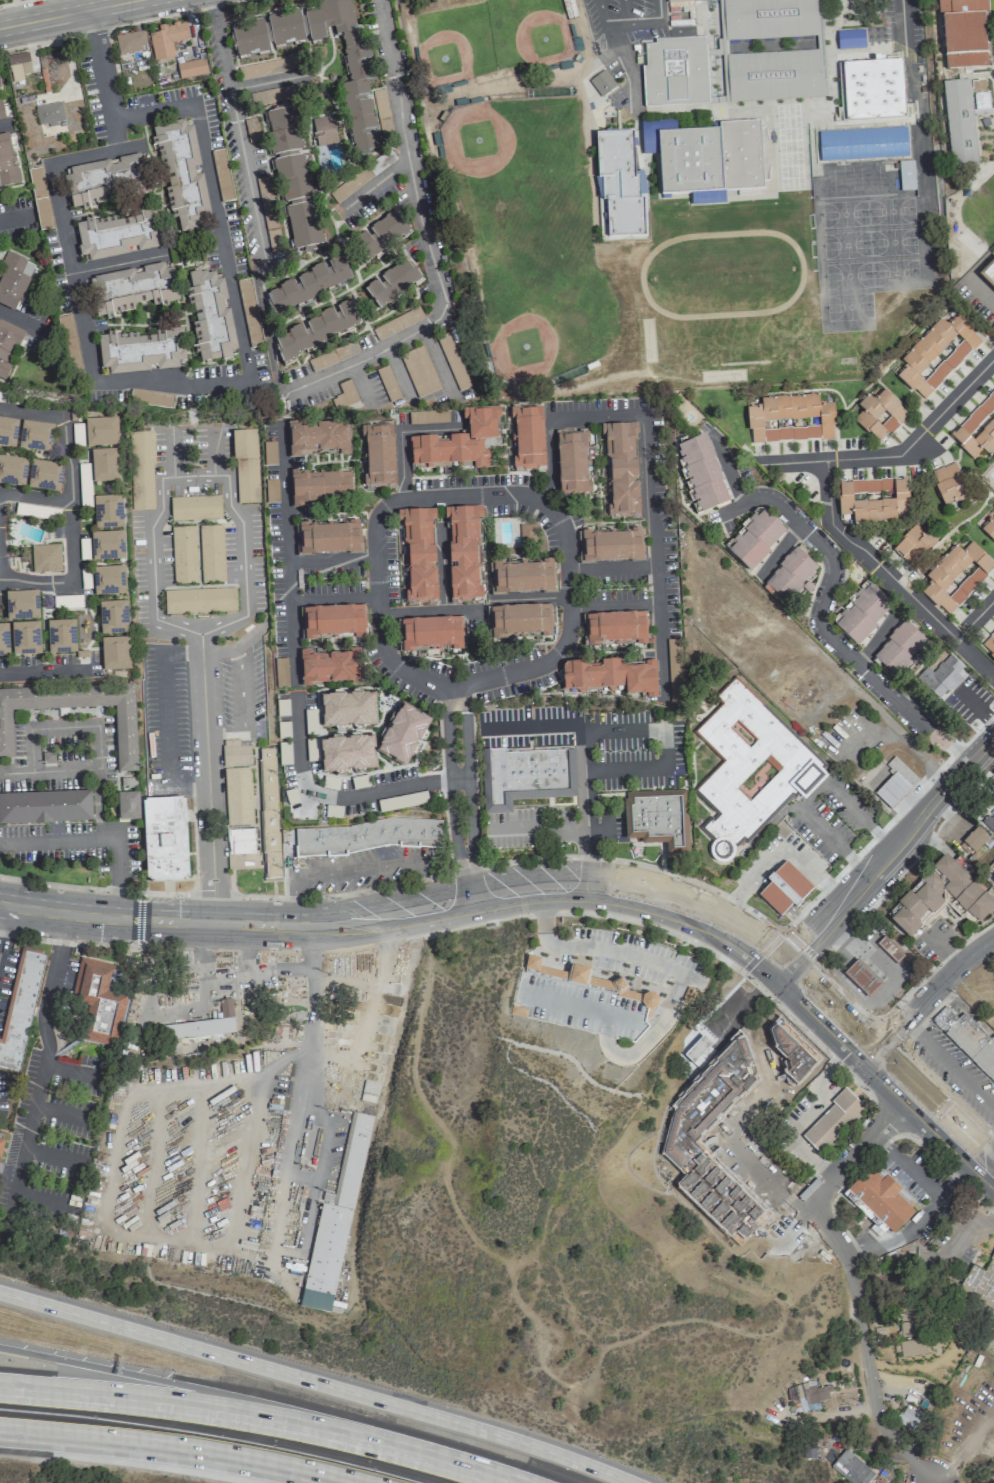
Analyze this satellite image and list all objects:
road: (599, 11)
road: (61, 12)
building: (766, 18)
road: (905, 20)
road: (640, 23)
road: (118, 25)
building: (285, 28)
building: (963, 33)
building: (878, 34)
building: (249, 38)
building: (849, 39)
building: (166, 40)
building: (993, 40)
building: (130, 42)
road: (615, 47)
building: (18, 66)
building: (191, 69)
building: (348, 69)
building: (675, 72)
building: (773, 76)
road: (104, 79)
building: (602, 83)
road: (266, 84)
building: (873, 90)
building: (281, 94)
building: (981, 104)
building: (1, 113)
building: (49, 114)
road: (916, 116)
building: (959, 123)
road: (235, 125)
road: (1, 129)
building: (252, 130)
building: (283, 131)
building: (323, 132)
building: (862, 144)
building: (712, 159)
building: (7, 163)
building: (906, 175)
building: (182, 177)
building: (103, 179)
building: (619, 183)
road: (376, 186)
building: (40, 198)
building: (299, 204)
building: (269, 214)
road: (14, 218)
building: (117, 235)
building: (382, 235)
road: (427, 242)
road: (115, 265)
building: (990, 269)
building: (13, 280)
building: (393, 283)
building: (310, 285)
building: (133, 289)
road: (984, 298)
building: (210, 317)
building: (397, 323)
road: (26, 326)
building: (318, 330)
building: (8, 347)
building: (141, 351)
building: (936, 355)
road: (187, 378)
building: (151, 398)
building: (879, 415)
building: (790, 419)
building: (977, 430)
building: (8, 432)
building: (101, 432)
building: (35, 436)
building: (317, 438)
building: (528, 438)
building: (458, 442)
building: (245, 444)
road: (900, 452)
building: (378, 455)
road: (547, 461)
building: (572, 464)
building: (105, 465)
building: (142, 470)
building: (621, 470)
building: (12, 471)
road: (733, 473)
building: (44, 475)
building: (702, 475)
building: (248, 480)
building: (949, 484)
building: (319, 487)
road: (36, 497)
road: (285, 498)
building: (872, 500)
road: (548, 503)
road: (73, 504)
road: (650, 504)
building: (195, 508)
road: (539, 508)
building: (107, 512)
building: (989, 528)
building: (526, 533)
building: (755, 540)
building: (913, 545)
building: (107, 546)
building: (611, 546)
building: (463, 552)
building: (211, 553)
building: (419, 554)
building: (183, 555)
road: (781, 557)
building: (45, 558)
road: (620, 566)
building: (524, 577)
building: (955, 577)
road: (155, 580)
road: (889, 580)
building: (108, 581)
road: (290, 582)
road: (534, 597)
building: (200, 601)
road: (624, 603)
building: (21, 605)
road: (427, 610)
building: (861, 613)
road: (972, 617)
building: (113, 618)
building: (333, 622)
road: (822, 624)
building: (614, 628)
building: (431, 633)
road: (292, 634)
road: (879, 636)
building: (61, 637)
building: (25, 639)
building: (4, 640)
building: (989, 645)
building: (899, 649)
building: (115, 654)
building: (329, 667)
building: (674, 671)
road: (42, 672)
building: (610, 677)
building: (940, 677)
building: (347, 710)
road: (163, 722)
road: (95, 724)
road: (535, 727)
road: (608, 728)
building: (403, 734)
building: (125, 736)
building: (346, 754)
building: (748, 771)
road: (15, 772)
building: (530, 776)
building: (895, 783)
road: (465, 786)
road: (342, 794)
road: (810, 795)
building: (239, 805)
building: (127, 806)
building: (45, 807)
building: (269, 814)
building: (656, 817)
building: (989, 821)
road: (539, 827)
building: (371, 837)
road: (91, 838)
building: (164, 839)
building: (973, 840)
road: (891, 847)
road: (550, 855)
road: (353, 867)
road: (640, 879)
building: (993, 879)
road: (588, 884)
road: (540, 885)
building: (784, 888)
road: (634, 904)
road: (237, 912)
road: (64, 913)
road: (384, 915)
road: (113, 918)
road: (240, 923)
road: (306, 925)
road: (2, 927)
road: (670, 931)
road: (777, 933)
road: (239, 934)
road: (68, 941)
road: (860, 949)
building: (889, 949)
road: (947, 956)
traffic signals: (787, 960)
road: (837, 967)
road: (260, 969)
road: (779, 969)
building: (861, 977)
building: (583, 979)
traffic signals: (772, 979)
road: (372, 983)
road: (819, 989)
road: (930, 992)
road: (845, 994)
building: (98, 998)
road: (872, 1000)
road: (672, 1002)
building: (20, 1006)
building: (582, 1006)
road: (744, 1006)
road: (806, 1012)
building: (945, 1019)
building: (204, 1024)
road: (864, 1034)
road: (889, 1035)
building: (974, 1043)
building: (696, 1049)
road: (855, 1050)
traffic signals: (870, 1054)
building: (743, 1055)
road: (917, 1063)
road: (948, 1063)
parking lot: (955, 1069)
road: (41, 1072)
road: (931, 1114)
road: (805, 1115)
road: (887, 1119)
building: (833, 1121)
building: (1, 1144)
road: (863, 1144)
road: (906, 1166)
road: (948, 1170)
building: (882, 1201)
road: (916, 1218)
building: (334, 1228)
road: (201, 1244)
building: (980, 1283)
building: (910, 1328)
road: (863, 1342)
building: (912, 1347)
road: (167, 1382)
road: (316, 1382)
building: (808, 1393)
road: (165, 1406)
building: (910, 1419)
road: (172, 1449)
road: (416, 1457)
building: (851, 1468)

